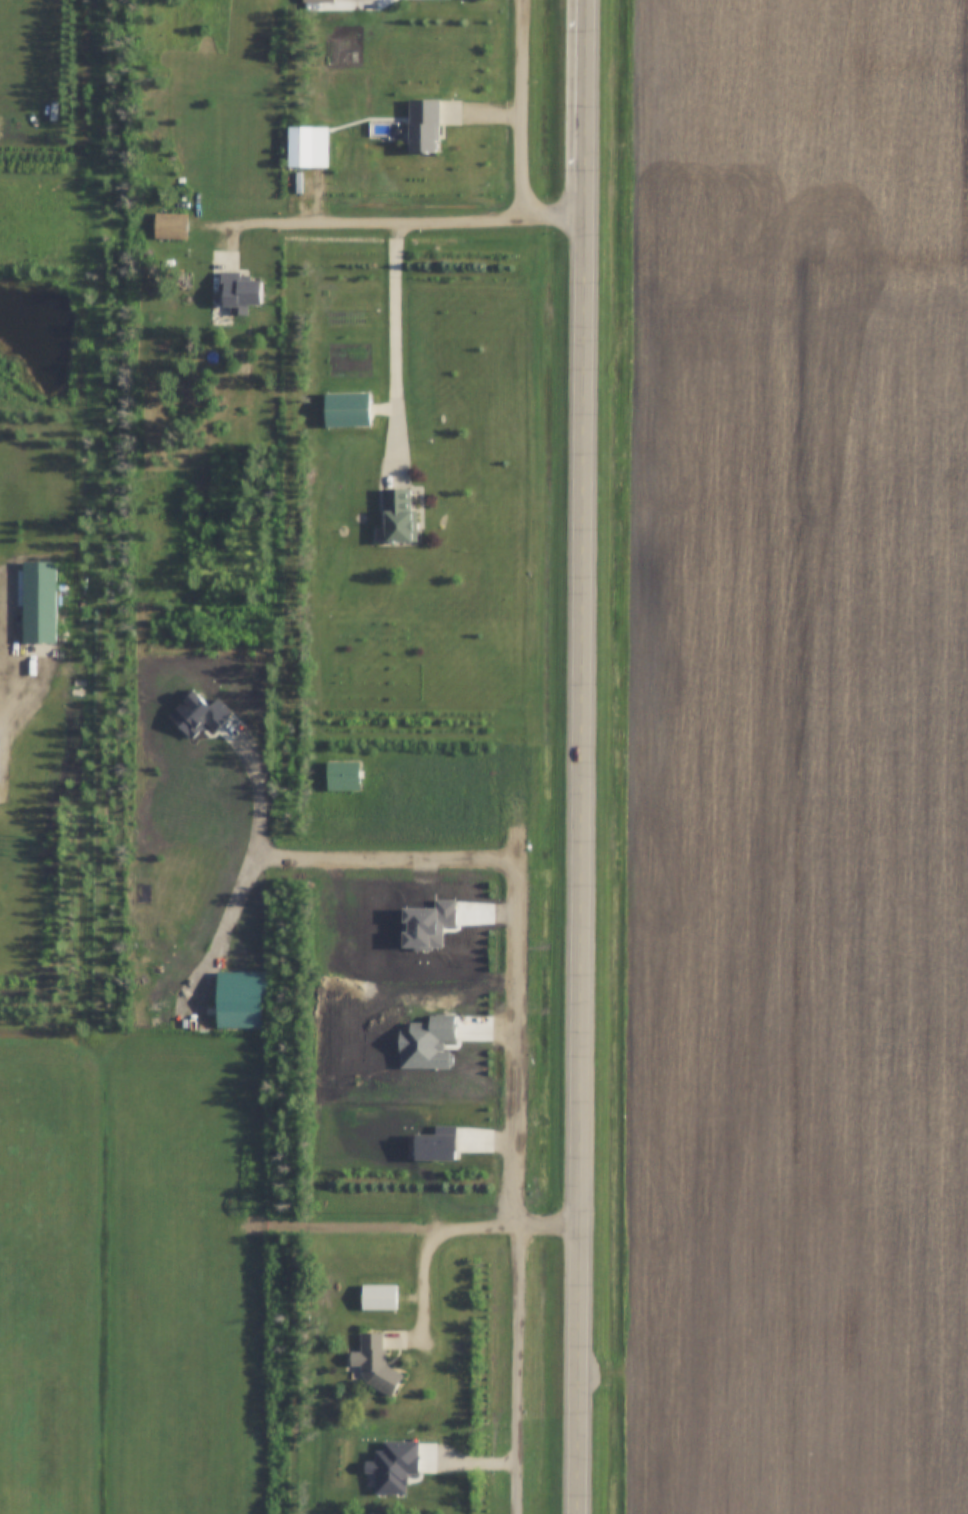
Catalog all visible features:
building: (319, 1)
road: (523, 108)
building: (425, 127)
building: (301, 147)
road: (411, 218)
building: (172, 226)
building: (241, 293)
road: (398, 343)
building: (348, 409)
building: (400, 515)
building: (40, 601)
road: (587, 757)
building: (343, 776)
road: (507, 863)
road: (224, 929)
building: (241, 1007)
road: (455, 1228)
building: (380, 1297)
building: (376, 1364)
road: (517, 1369)

